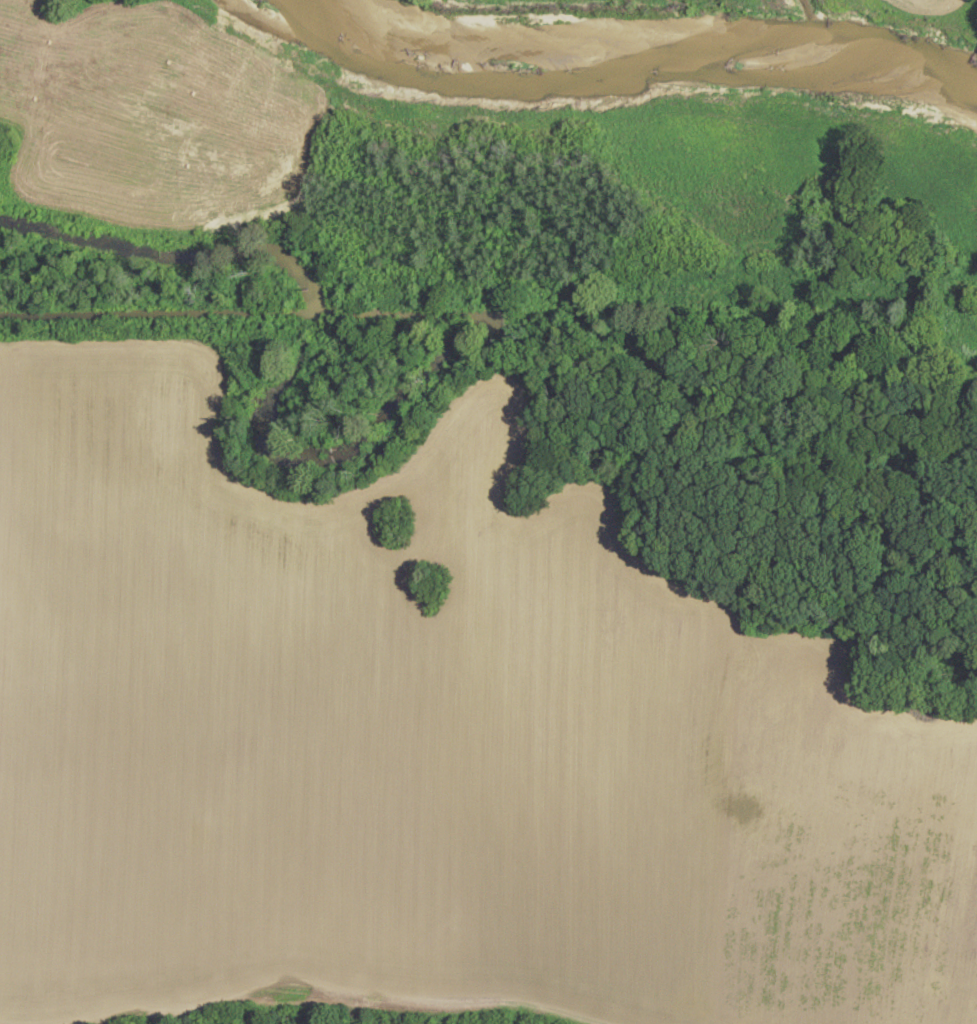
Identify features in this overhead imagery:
river: (635, 50)

